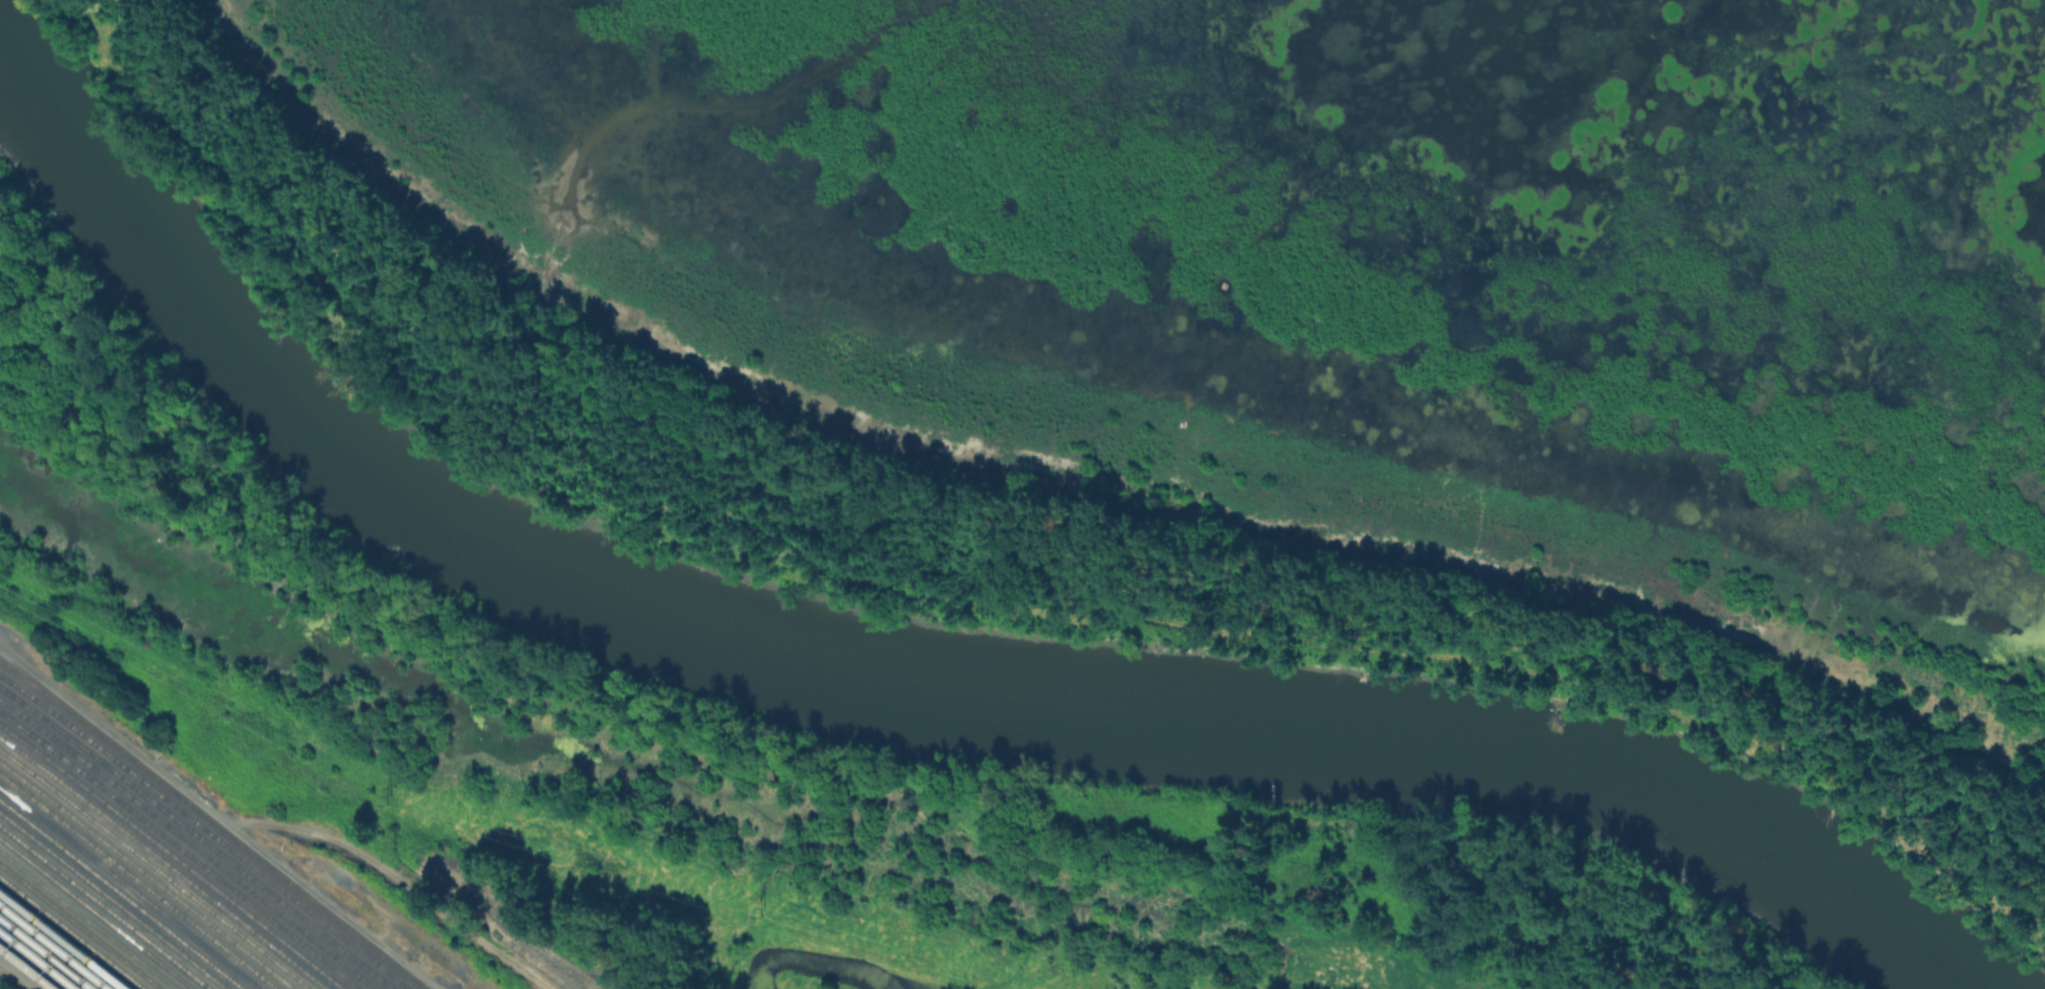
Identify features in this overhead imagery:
railway: (213, 823)
railway: (206, 829)
railway: (197, 835)
railway: (188, 842)
railway: (180, 849)
railway: (172, 855)
railway: (164, 861)
railway: (155, 867)
railway: (147, 874)
railway: (139, 880)
railway: (130, 887)
railway: (121, 894)
railway: (113, 900)
railway: (104, 907)
railway: (96, 913)
railway: (88, 919)
railway: (80, 926)
railway: (72, 933)
railway: (64, 939)
railway: (55, 945)
railway: (46, 952)
railway: (39, 958)
railway: (27, 967)

